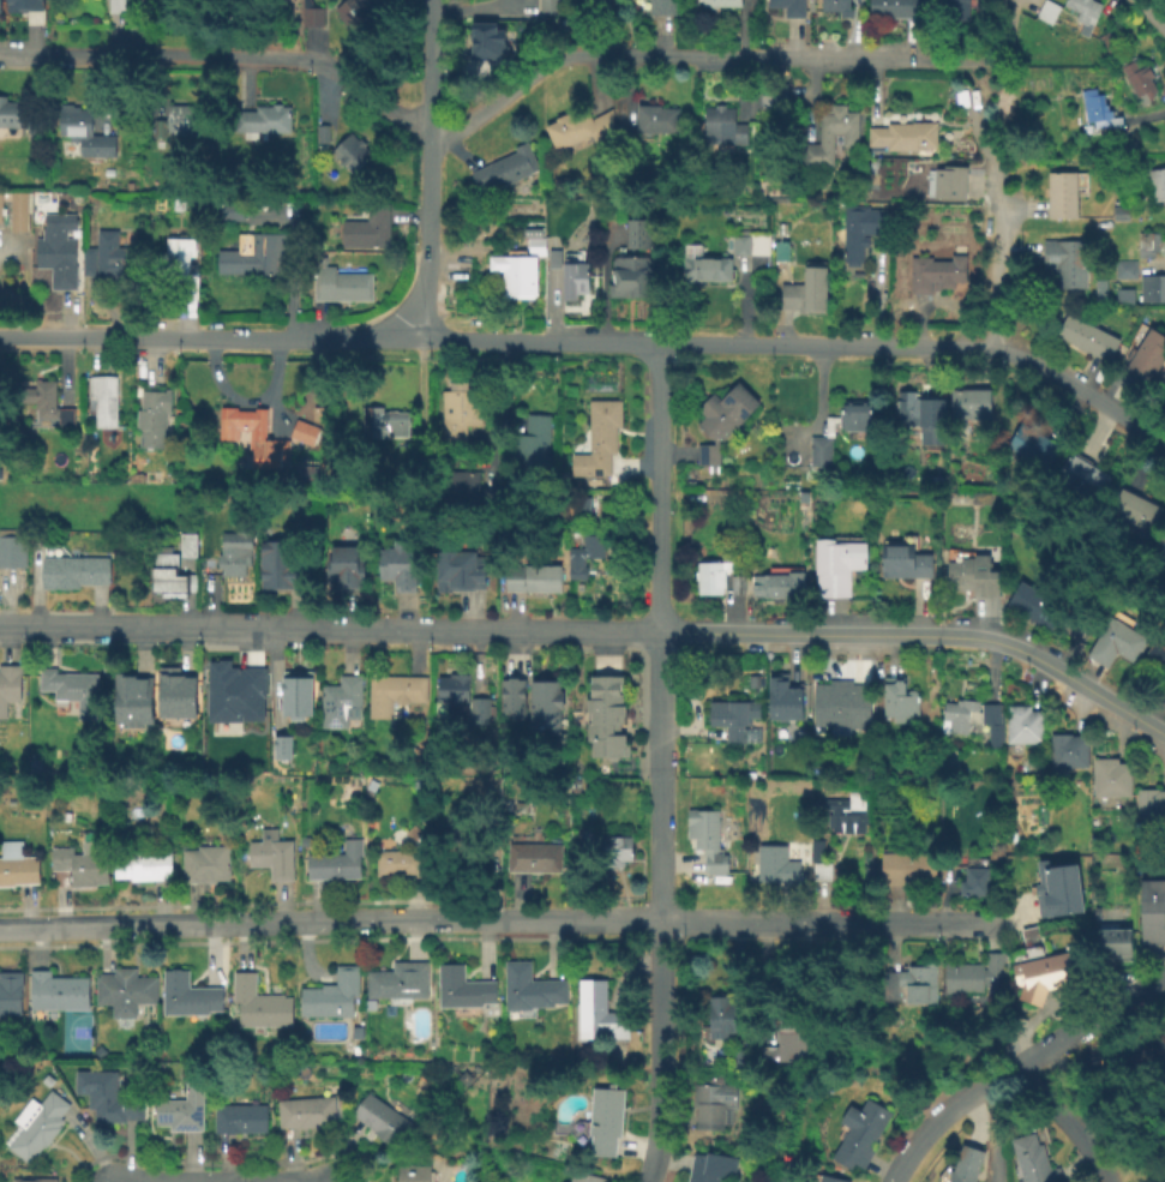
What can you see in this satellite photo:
building: (238, 0)
building: (720, 5)
building: (1, 6)
building: (26, 6)
building: (114, 6)
building: (951, 6)
building: (787, 7)
building: (839, 7)
road: (476, 8)
building: (660, 8)
building: (895, 10)
road: (1016, 10)
building: (548, 11)
building: (1046, 11)
road: (1152, 12)
building: (353, 13)
building: (1082, 14)
building: (310, 18)
building: (488, 42)
building: (1110, 42)
road: (997, 44)
road: (687, 55)
road: (224, 58)
road: (431, 65)
road: (322, 77)
road: (596, 80)
building: (1137, 83)
road: (971, 88)
road: (873, 89)
building: (775, 96)
building: (1095, 113)
building: (11, 115)
road: (1146, 118)
building: (655, 120)
building: (259, 121)
building: (179, 124)
building: (722, 127)
building: (574, 128)
building: (82, 132)
building: (319, 136)
building: (828, 137)
building: (901, 139)
road: (454, 150)
building: (348, 156)
building: (505, 172)
building: (948, 184)
building: (1155, 186)
building: (1062, 194)
building: (181, 204)
building: (17, 206)
building: (234, 210)
building: (1118, 214)
building: (783, 229)
building: (365, 230)
road: (1002, 230)
building: (860, 233)
road: (427, 235)
building: (636, 235)
building: (746, 244)
building: (1146, 246)
building: (58, 248)
building: (780, 252)
building: (252, 253)
building: (108, 257)
building: (323, 260)
building: (1063, 263)
building: (184, 269)
building: (705, 270)
building: (1122, 271)
building: (933, 274)
building: (515, 275)
building: (569, 277)
building: (630, 278)
road: (602, 284)
building: (338, 287)
building: (1152, 290)
building: (804, 292)
building: (1122, 299)
building: (905, 311)
road: (212, 338)
building: (1085, 338)
road: (542, 342)
road: (925, 347)
building: (1145, 358)
building: (102, 397)
building: (38, 398)
road: (493, 403)
building: (968, 406)
building: (316, 412)
building: (457, 413)
building: (918, 413)
building: (150, 416)
building: (720, 421)
building: (382, 424)
building: (304, 430)
building: (857, 434)
building: (252, 436)
building: (597, 442)
building: (529, 444)
building: (1029, 446)
building: (310, 472)
building: (938, 480)
building: (1083, 481)
road: (659, 488)
building: (466, 493)
building: (981, 500)
building: (1135, 512)
building: (187, 544)
building: (12, 550)
building: (235, 550)
building: (1159, 551)
building: (582, 558)
building: (278, 563)
building: (397, 563)
building: (902, 564)
building: (835, 566)
building: (344, 568)
building: (460, 568)
building: (72, 569)
building: (166, 572)
building: (532, 576)
building: (972, 577)
building: (709, 580)
building: (775, 586)
building: (735, 588)
building: (1034, 610)
road: (594, 631)
building: (1113, 646)
building: (1154, 660)
building: (8, 684)
building: (71, 688)
building: (390, 690)
building: (174, 691)
building: (234, 691)
building: (296, 692)
building: (461, 696)
building: (511, 696)
building: (782, 697)
building: (133, 698)
building: (340, 700)
building: (544, 703)
building: (899, 703)
building: (840, 706)
building: (602, 720)
building: (974, 720)
building: (734, 721)
building: (1022, 726)
building: (282, 744)
building: (421, 751)
building: (1067, 752)
building: (1109, 779)
building: (1148, 806)
building: (842, 816)
building: (412, 830)
building: (304, 839)
building: (705, 841)
building: (463, 851)
building: (606, 851)
building: (271, 853)
building: (534, 856)
building: (80, 860)
building: (335, 860)
building: (140, 862)
building: (205, 862)
building: (397, 862)
building: (16, 863)
building: (818, 865)
building: (776, 866)
building: (902, 870)
building: (973, 881)
building: (1055, 892)
road: (212, 902)
road: (617, 906)
road: (660, 907)
building: (1152, 916)
road: (217, 924)
road: (504, 924)
road: (783, 924)
road: (606, 938)
road: (283, 940)
building: (1111, 946)
building: (973, 977)
building: (397, 978)
building: (903, 978)
building: (1040, 978)
building: (461, 986)
building: (529, 986)
building: (56, 989)
building: (124, 989)
building: (10, 991)
building: (332, 992)
building: (187, 994)
building: (256, 1002)
building: (596, 1016)
building: (721, 1021)
road: (1032, 1021)
building: (356, 1032)
park: (72, 1033)
building: (786, 1043)
building: (98, 1050)
building: (1148, 1052)
building: (860, 1056)
building: (739, 1060)
road: (1015, 1063)
building: (108, 1102)
building: (711, 1106)
building: (180, 1112)
road: (1064, 1114)
building: (304, 1116)
building: (239, 1122)
building: (379, 1122)
building: (602, 1123)
building: (36, 1127)
road: (992, 1129)
building: (857, 1136)
building: (1031, 1162)
road: (223, 1163)
building: (965, 1165)
building: (708, 1168)
building: (409, 1171)
building: (583, 1178)
building: (825, 1180)
building: (32, 1181)

